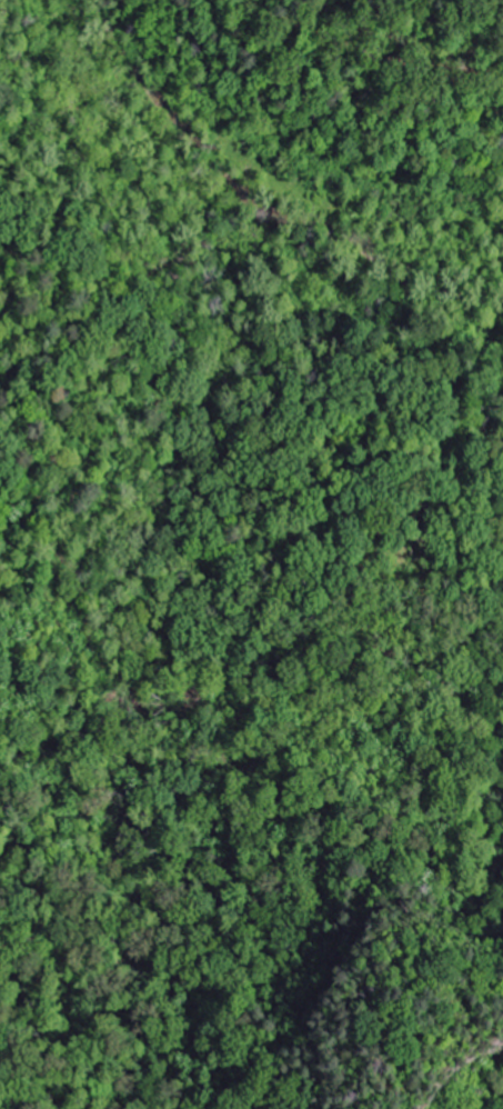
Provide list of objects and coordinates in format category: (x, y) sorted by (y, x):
road: (412, 58)

